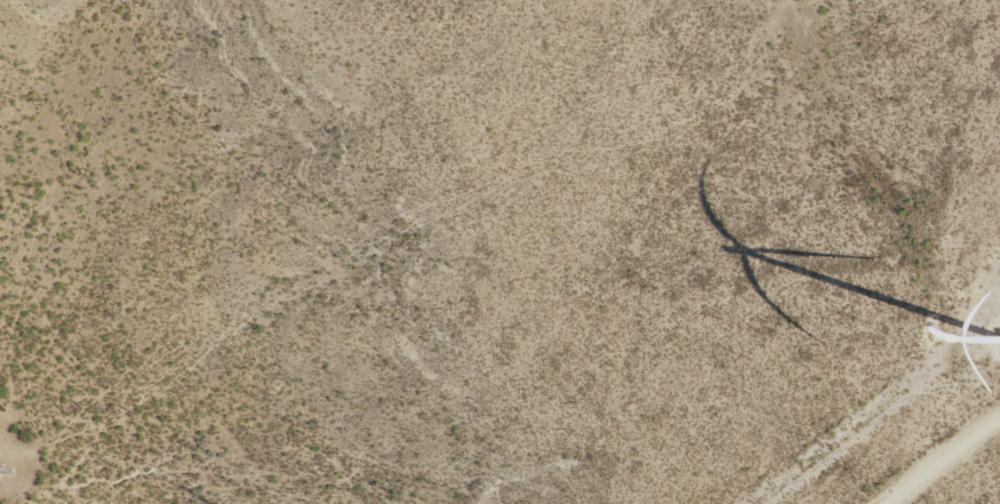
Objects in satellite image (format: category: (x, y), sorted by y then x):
wind turbine: (990, 343)

